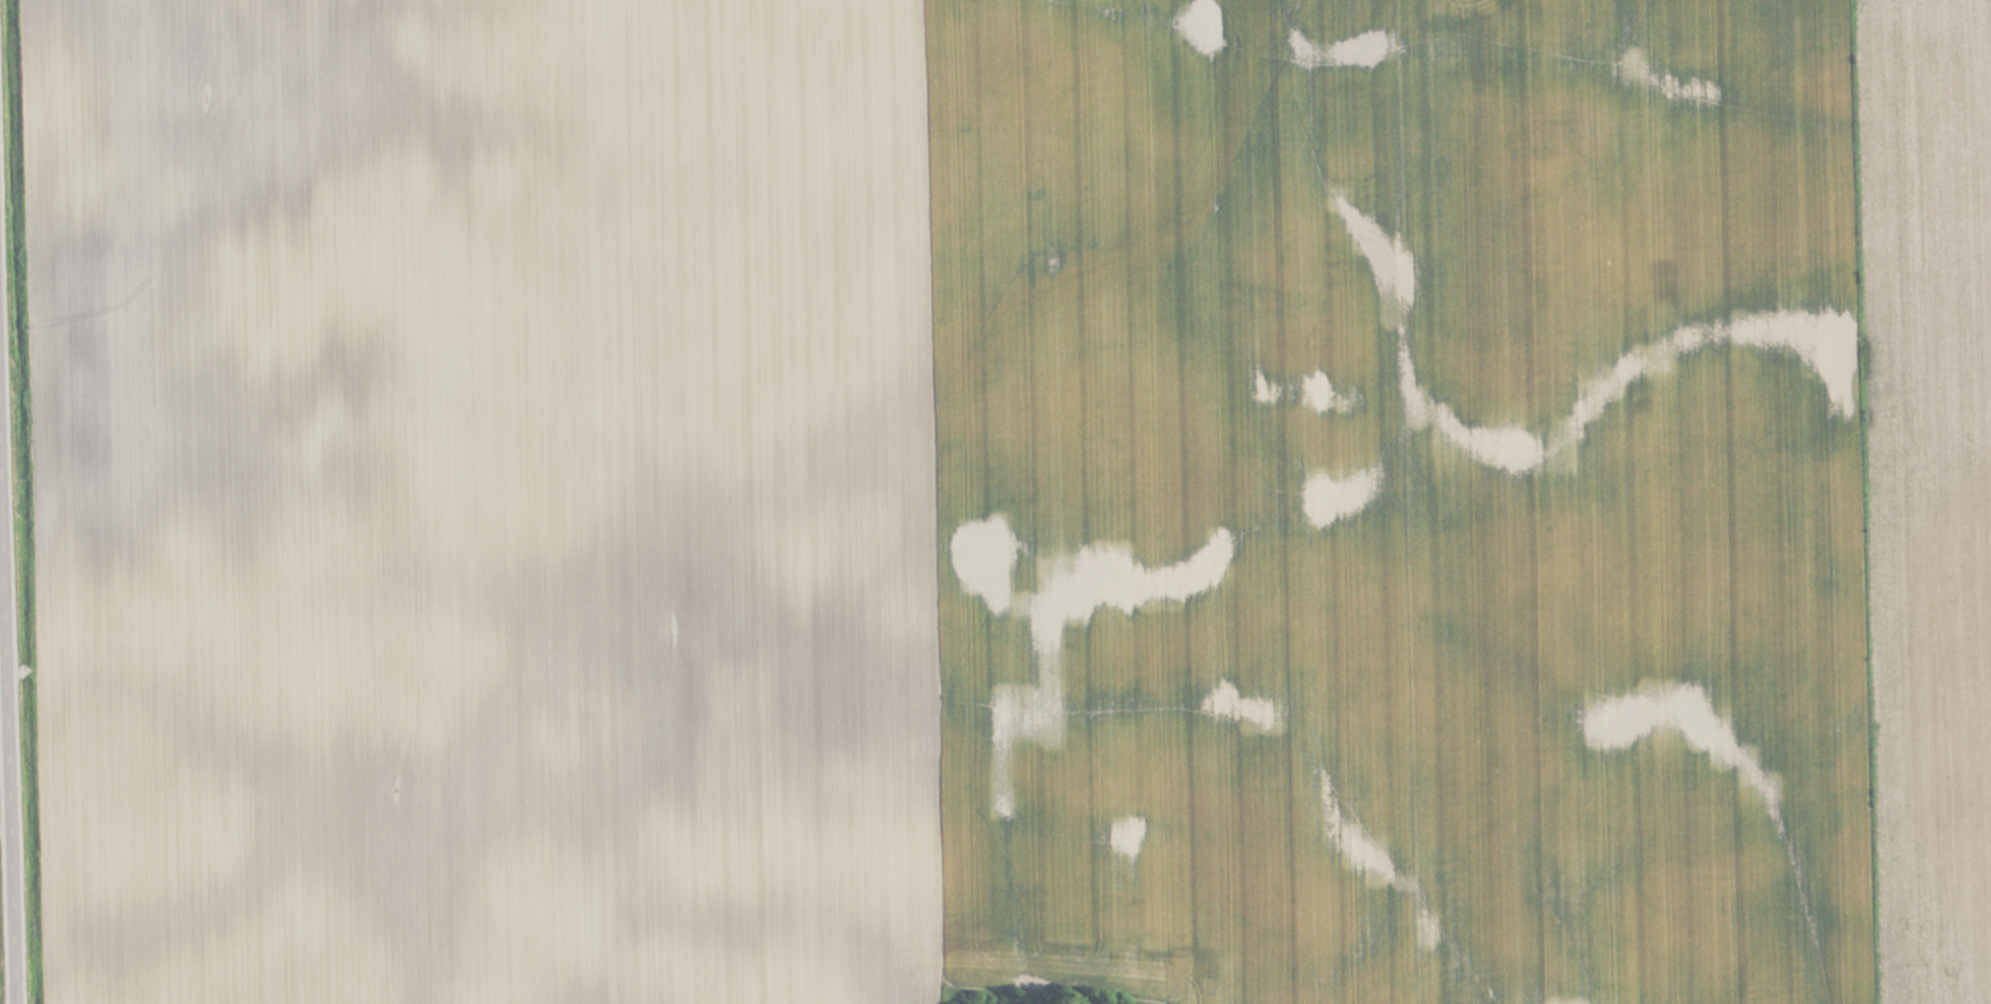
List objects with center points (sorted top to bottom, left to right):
road: (7, 742)

